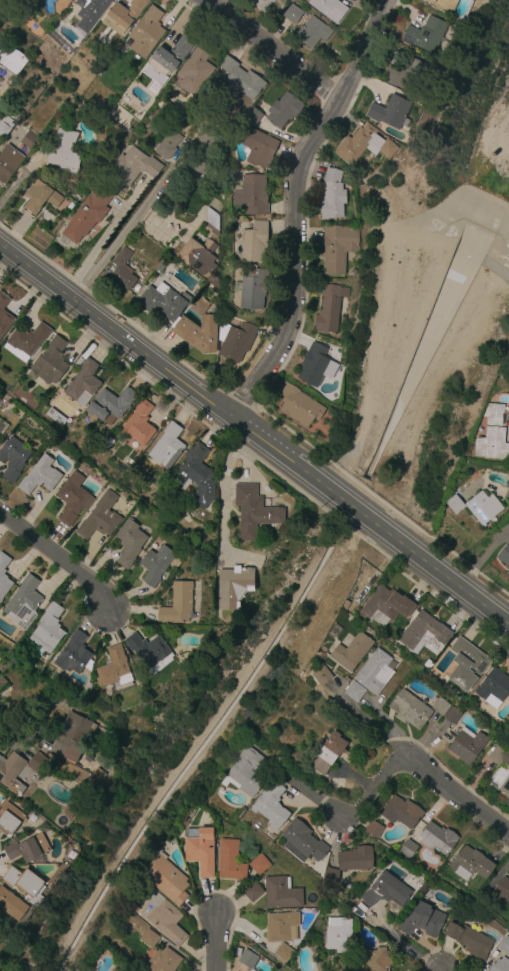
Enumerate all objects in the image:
building: (264, 4)
building: (447, 4)
building: (61, 6)
building: (329, 8)
building: (90, 12)
building: (293, 15)
building: (123, 16)
building: (146, 33)
building: (312, 33)
building: (426, 35)
building: (167, 37)
road: (277, 45)
building: (171, 55)
building: (11, 60)
building: (195, 71)
building: (408, 75)
building: (240, 79)
building: (166, 107)
building: (283, 110)
building: (391, 113)
building: (253, 115)
building: (5, 126)
building: (30, 141)
building: (168, 144)
building: (364, 145)
building: (258, 147)
building: (64, 150)
building: (207, 150)
building: (8, 164)
building: (134, 166)
building: (359, 174)
building: (236, 187)
building: (252, 196)
building: (332, 196)
building: (40, 197)
road: (300, 208)
building: (87, 215)
building: (213, 218)
dam: (437, 235)
road: (120, 236)
building: (252, 242)
building: (337, 247)
dam: (486, 252)
building: (197, 256)
road: (496, 269)
building: (122, 271)
building: (252, 289)
building: (164, 303)
building: (198, 303)
building: (330, 309)
building: (1, 313)
building: (198, 333)
building: (26, 340)
building: (236, 341)
building: (53, 359)
building: (316, 365)
building: (83, 384)
building: (111, 405)
building: (299, 405)
building: (495, 414)
building: (57, 417)
building: (1, 426)
building: (139, 426)
road: (254, 434)
building: (492, 445)
building: (168, 447)
building: (13, 459)
building: (196, 475)
building: (40, 476)
building: (262, 484)
road: (221, 486)
building: (73, 498)
building: (456, 505)
building: (483, 508)
building: (254, 512)
building: (97, 523)
building: (129, 543)
road: (483, 554)
building: (505, 556)
road: (58, 560)
building: (250, 563)
building: (159, 564)
building: (508, 573)
building: (4, 577)
building: (234, 587)
building: (178, 603)
building: (23, 604)
building: (346, 604)
building: (387, 606)
building: (49, 629)
building: (424, 633)
building: (150, 652)
building: (353, 652)
building: (73, 653)
building: (45, 658)
building: (466, 664)
building: (115, 669)
building: (375, 673)
building: (323, 676)
building: (2, 683)
building: (494, 688)
building: (355, 692)
building: (440, 707)
building: (409, 709)
building: (452, 716)
road: (370, 722)
road: (20, 729)
building: (72, 736)
building: (467, 746)
building: (329, 754)
building: (499, 756)
building: (36, 764)
building: (10, 768)
building: (248, 772)
road: (372, 786)
building: (505, 788)
road: (308, 795)
road: (459, 795)
building: (271, 806)
building: (401, 812)
building: (10, 819)
building: (374, 830)
building: (437, 839)
building: (302, 842)
building: (27, 848)
building: (408, 849)
building: (201, 850)
building: (355, 859)
building: (230, 861)
building: (259, 864)
building: (471, 864)
building: (331, 876)
building: (166, 880)
building: (24, 881)
building: (252, 891)
building: (385, 892)
building: (281, 893)
building: (496, 894)
building: (12, 904)
building: (163, 917)
building: (422, 920)
building: (281, 927)
building: (339, 935)
building: (149, 938)
building: (470, 940)
road: (214, 942)
road: (398, 942)
building: (504, 945)
building: (284, 953)
building: (248, 959)
building: (374, 959)
building: (164, 961)
building: (500, 965)
building: (14, 969)

